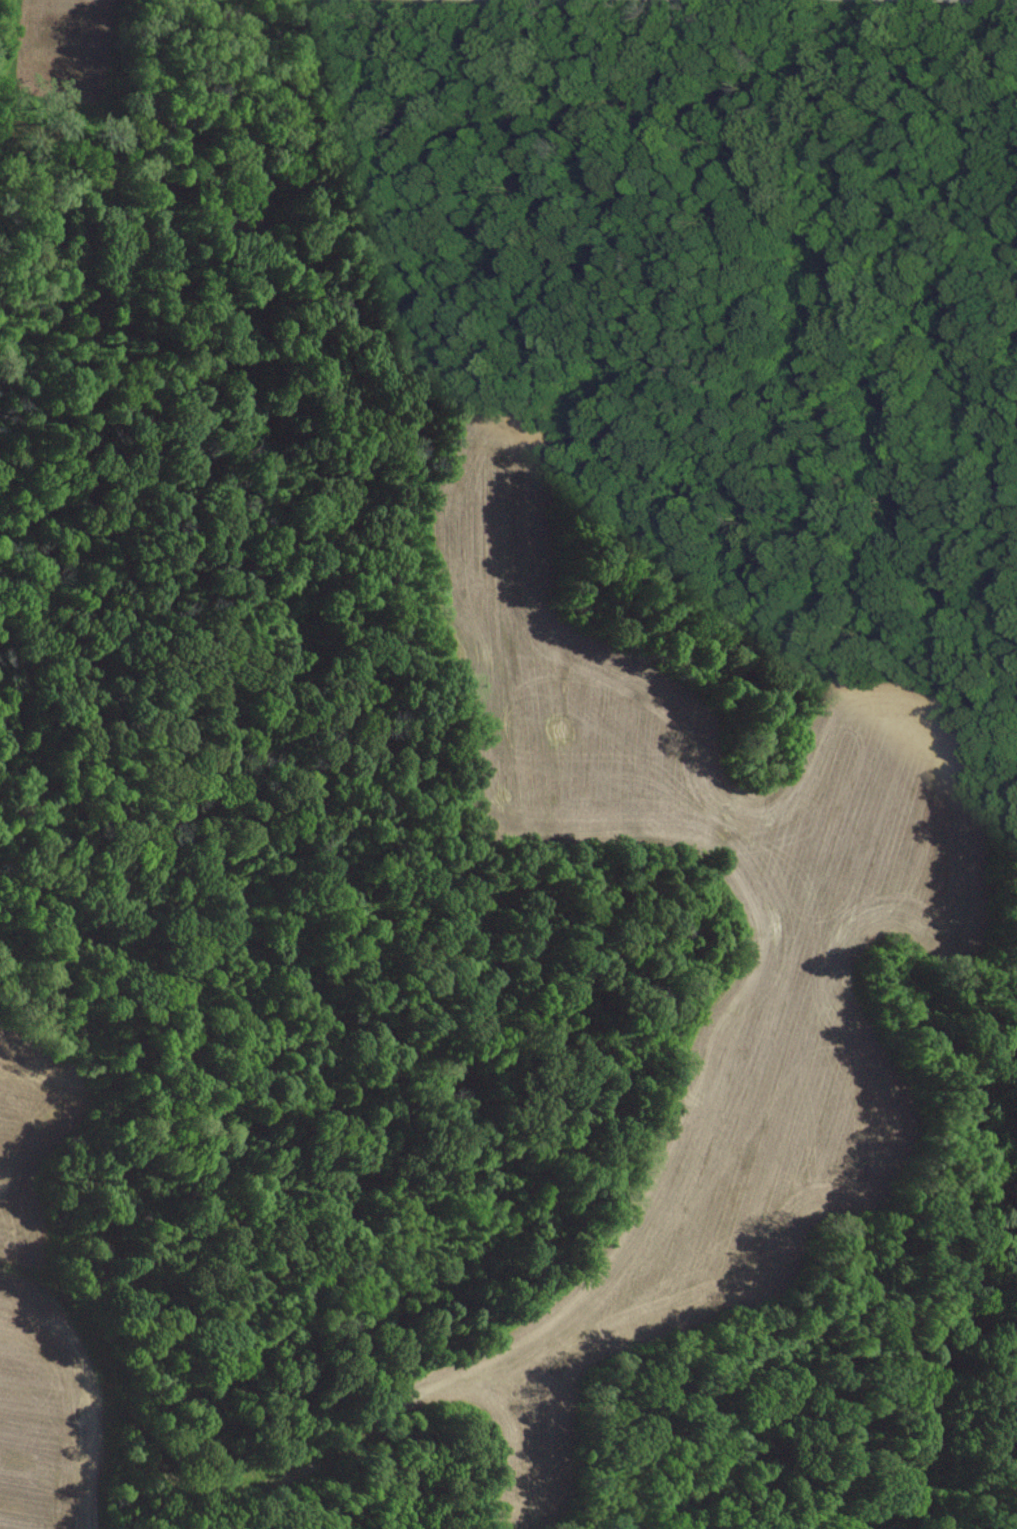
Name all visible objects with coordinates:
road: (473, 1)
road: (660, 2)
road: (993, 2)

